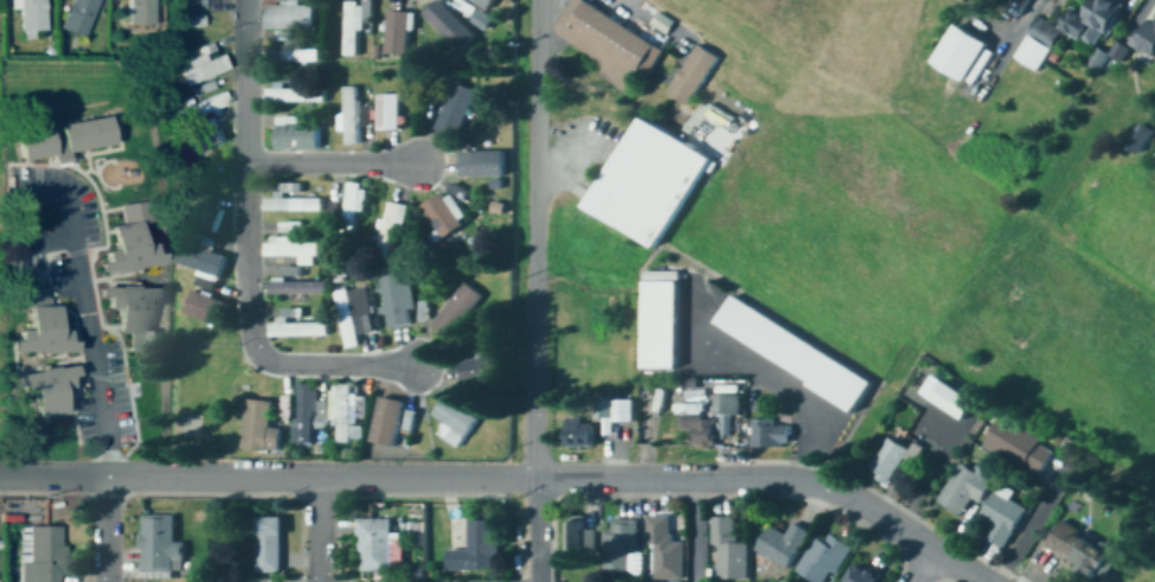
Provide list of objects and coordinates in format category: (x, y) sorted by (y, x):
building: (485, 2)
building: (223, 4)
building: (139, 14)
building: (288, 14)
building: (76, 15)
building: (31, 17)
road: (650, 21)
building: (1090, 21)
building: (449, 24)
building: (354, 27)
building: (397, 32)
building: (1146, 37)
building: (610, 41)
building: (1037, 44)
building: (1121, 49)
building: (967, 52)
building: (293, 56)
building: (200, 64)
building: (692, 76)
building: (293, 95)
building: (201, 105)
building: (454, 110)
building: (387, 113)
building: (351, 116)
building: (294, 119)
building: (208, 130)
building: (296, 135)
building: (64, 139)
building: (195, 147)
road: (331, 165)
building: (480, 165)
road: (580, 178)
building: (648, 185)
building: (293, 205)
building: (351, 212)
building: (203, 216)
building: (441, 219)
building: (290, 228)
building: (390, 229)
building: (124, 248)
building: (289, 249)
road: (245, 257)
building: (205, 261)
building: (290, 271)
building: (297, 288)
road: (534, 290)
building: (397, 299)
building: (205, 308)
building: (129, 311)
building: (354, 311)
building: (457, 311)
building: (44, 320)
building: (659, 326)
building: (297, 330)
road: (83, 341)
building: (791, 353)
building: (476, 371)
road: (766, 371)
building: (40, 382)
building: (945, 397)
building: (616, 409)
building: (308, 414)
building: (348, 415)
building: (708, 418)
building: (386, 421)
building: (453, 422)
building: (258, 427)
building: (570, 428)
building: (770, 431)
building: (1019, 446)
building: (893, 458)
road: (1, 475)
road: (374, 479)
building: (963, 488)
road: (871, 511)
building: (1000, 517)
road: (105, 530)
road: (319, 530)
road: (695, 531)
road: (1025, 531)
building: (580, 536)
building: (265, 545)
building: (373, 545)
building: (621, 545)
building: (781, 545)
building: (158, 548)
building: (727, 549)
building: (474, 550)
building: (663, 550)
building: (1079, 551)
building: (40, 554)
building: (822, 558)
road: (923, 567)
building: (861, 574)

